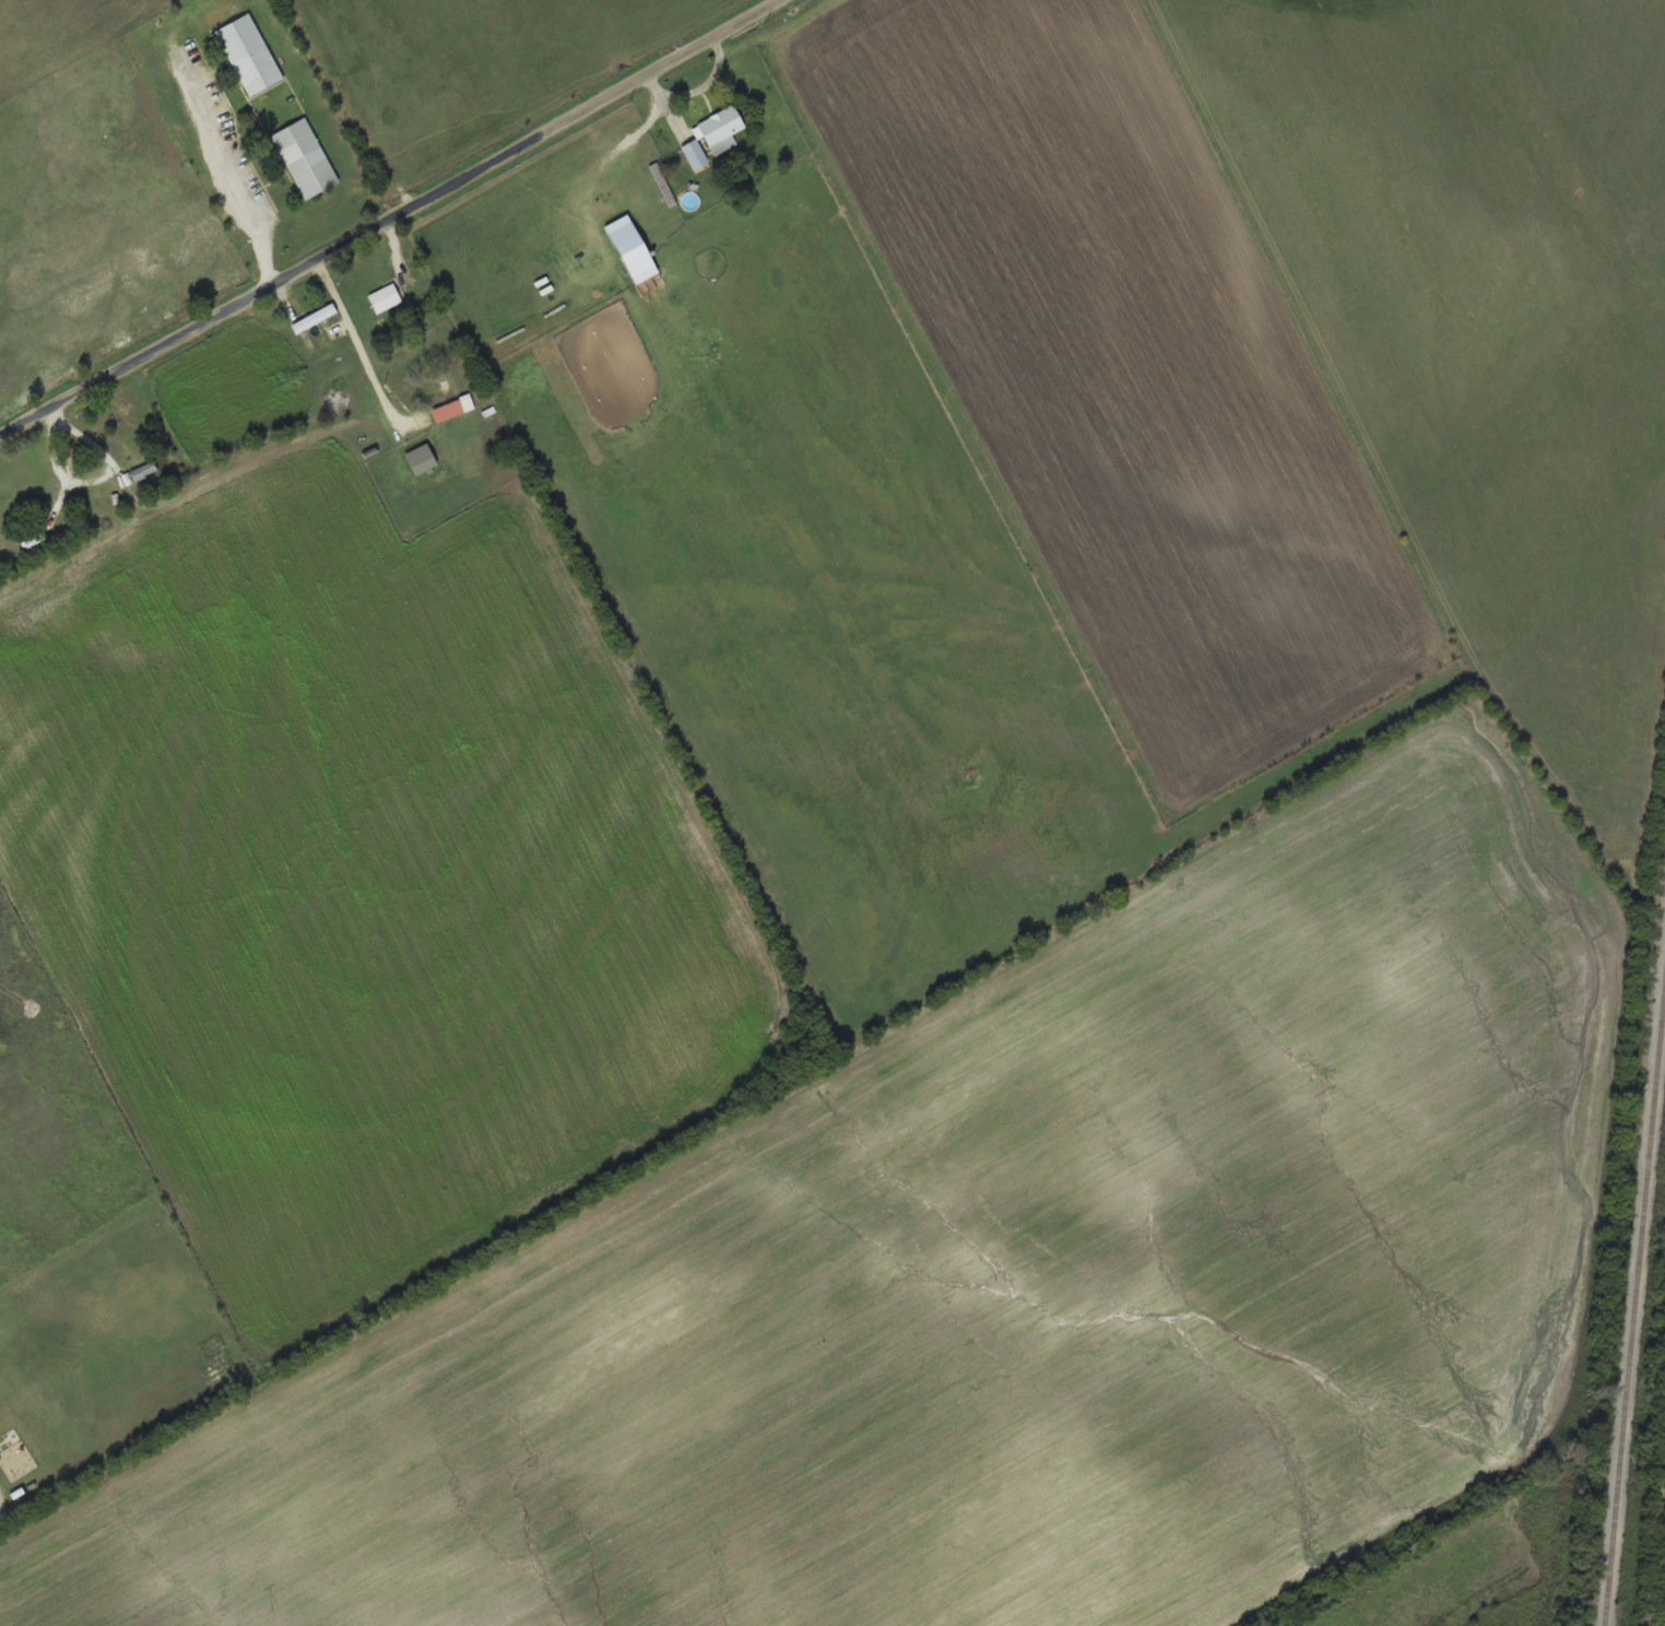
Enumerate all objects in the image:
building: (245, 55)
building: (718, 131)
building: (692, 154)
building: (302, 158)
building: (661, 186)
road: (393, 221)
building: (636, 263)
building: (380, 298)
building: (319, 330)
building: (444, 401)
building: (141, 475)
building: (38, 539)
railway: (1636, 1315)

